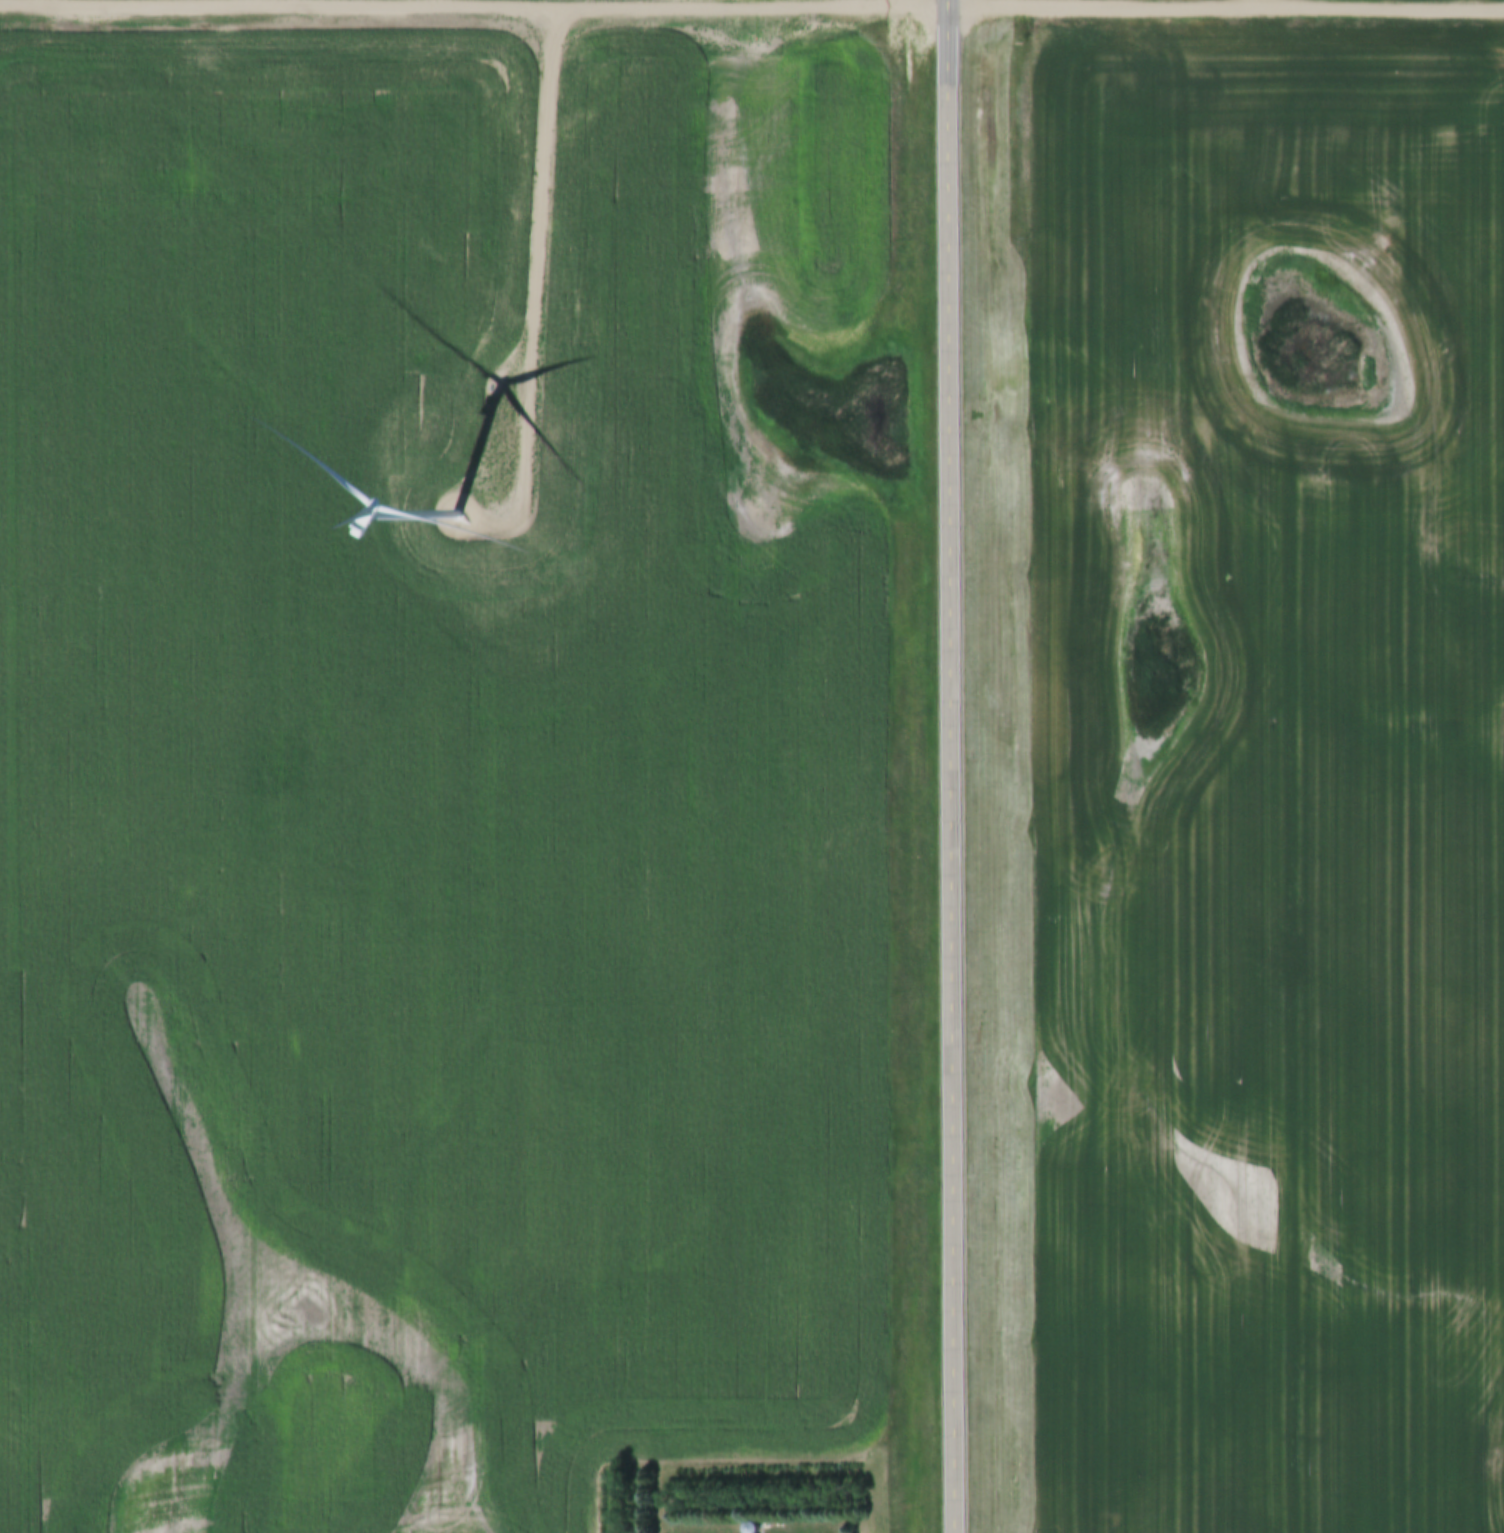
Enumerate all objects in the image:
road: (1249, 3)
road: (1228, 7)
road: (476, 14)
road: (535, 253)
wind turbine: (445, 513)
road: (957, 766)
building: (750, 1527)
silo: (750, 1527)

